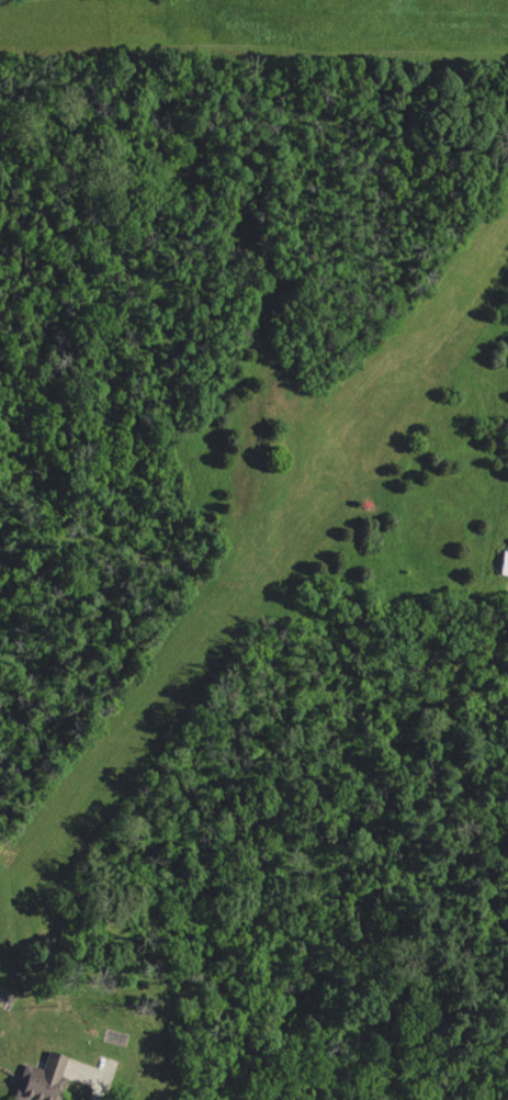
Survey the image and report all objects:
building: (503, 563)
building: (39, 1079)
road: (94, 1098)

